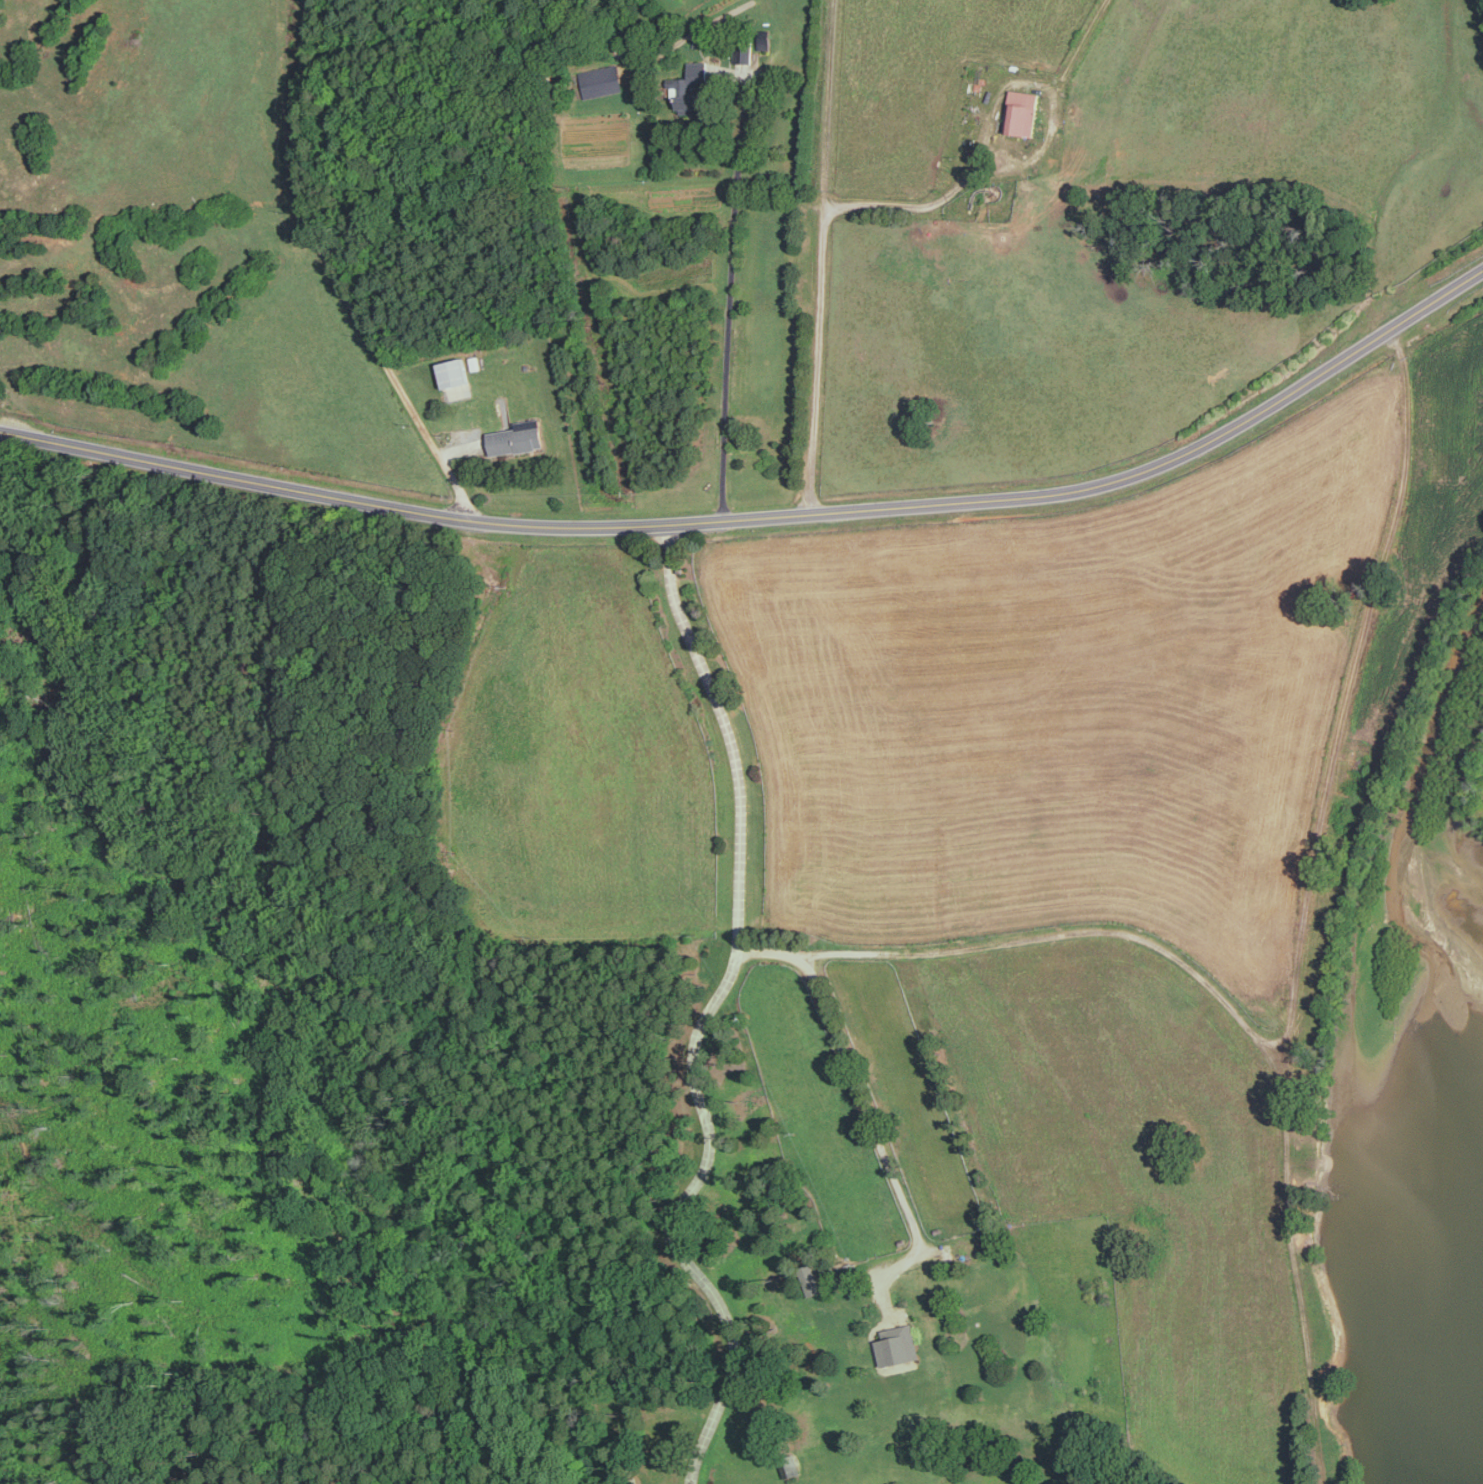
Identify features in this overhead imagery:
building: (743, 54)
building: (600, 80)
building: (693, 85)
building: (1024, 111)
road: (914, 205)
road: (817, 257)
road: (338, 275)
road: (729, 299)
building: (454, 371)
building: (456, 391)
building: (518, 437)
road: (766, 518)
road: (707, 1017)
road: (861, 1099)
building: (898, 1345)

